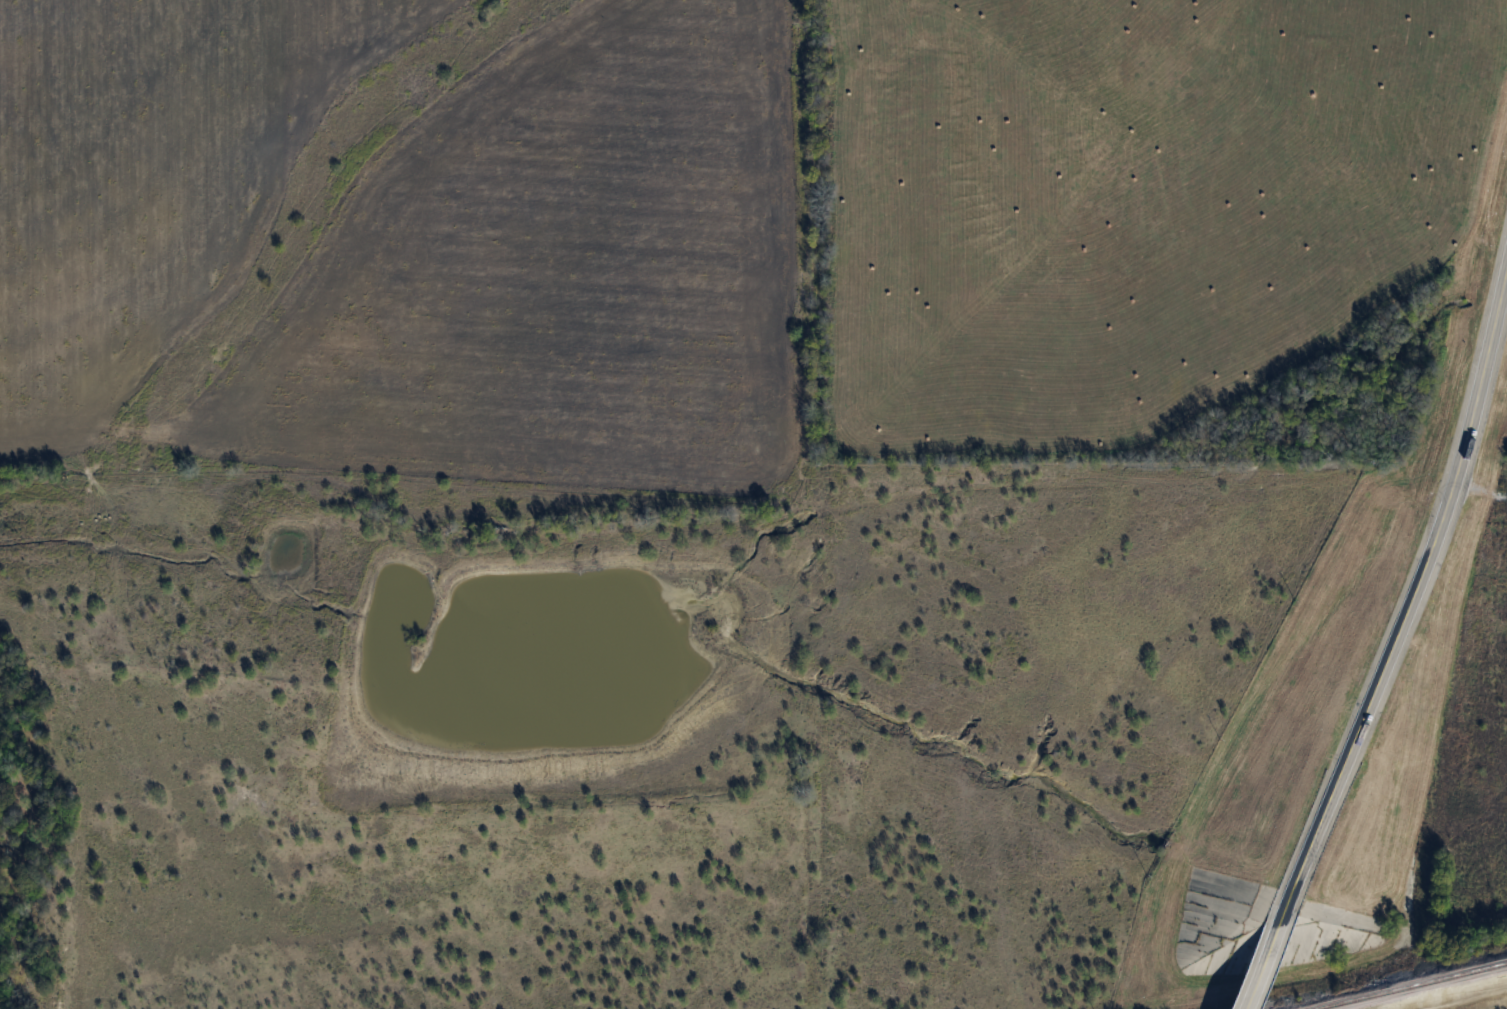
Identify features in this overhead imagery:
road: (1416, 587)
building: (1218, 935)
road: (1266, 953)
railway: (1415, 987)

